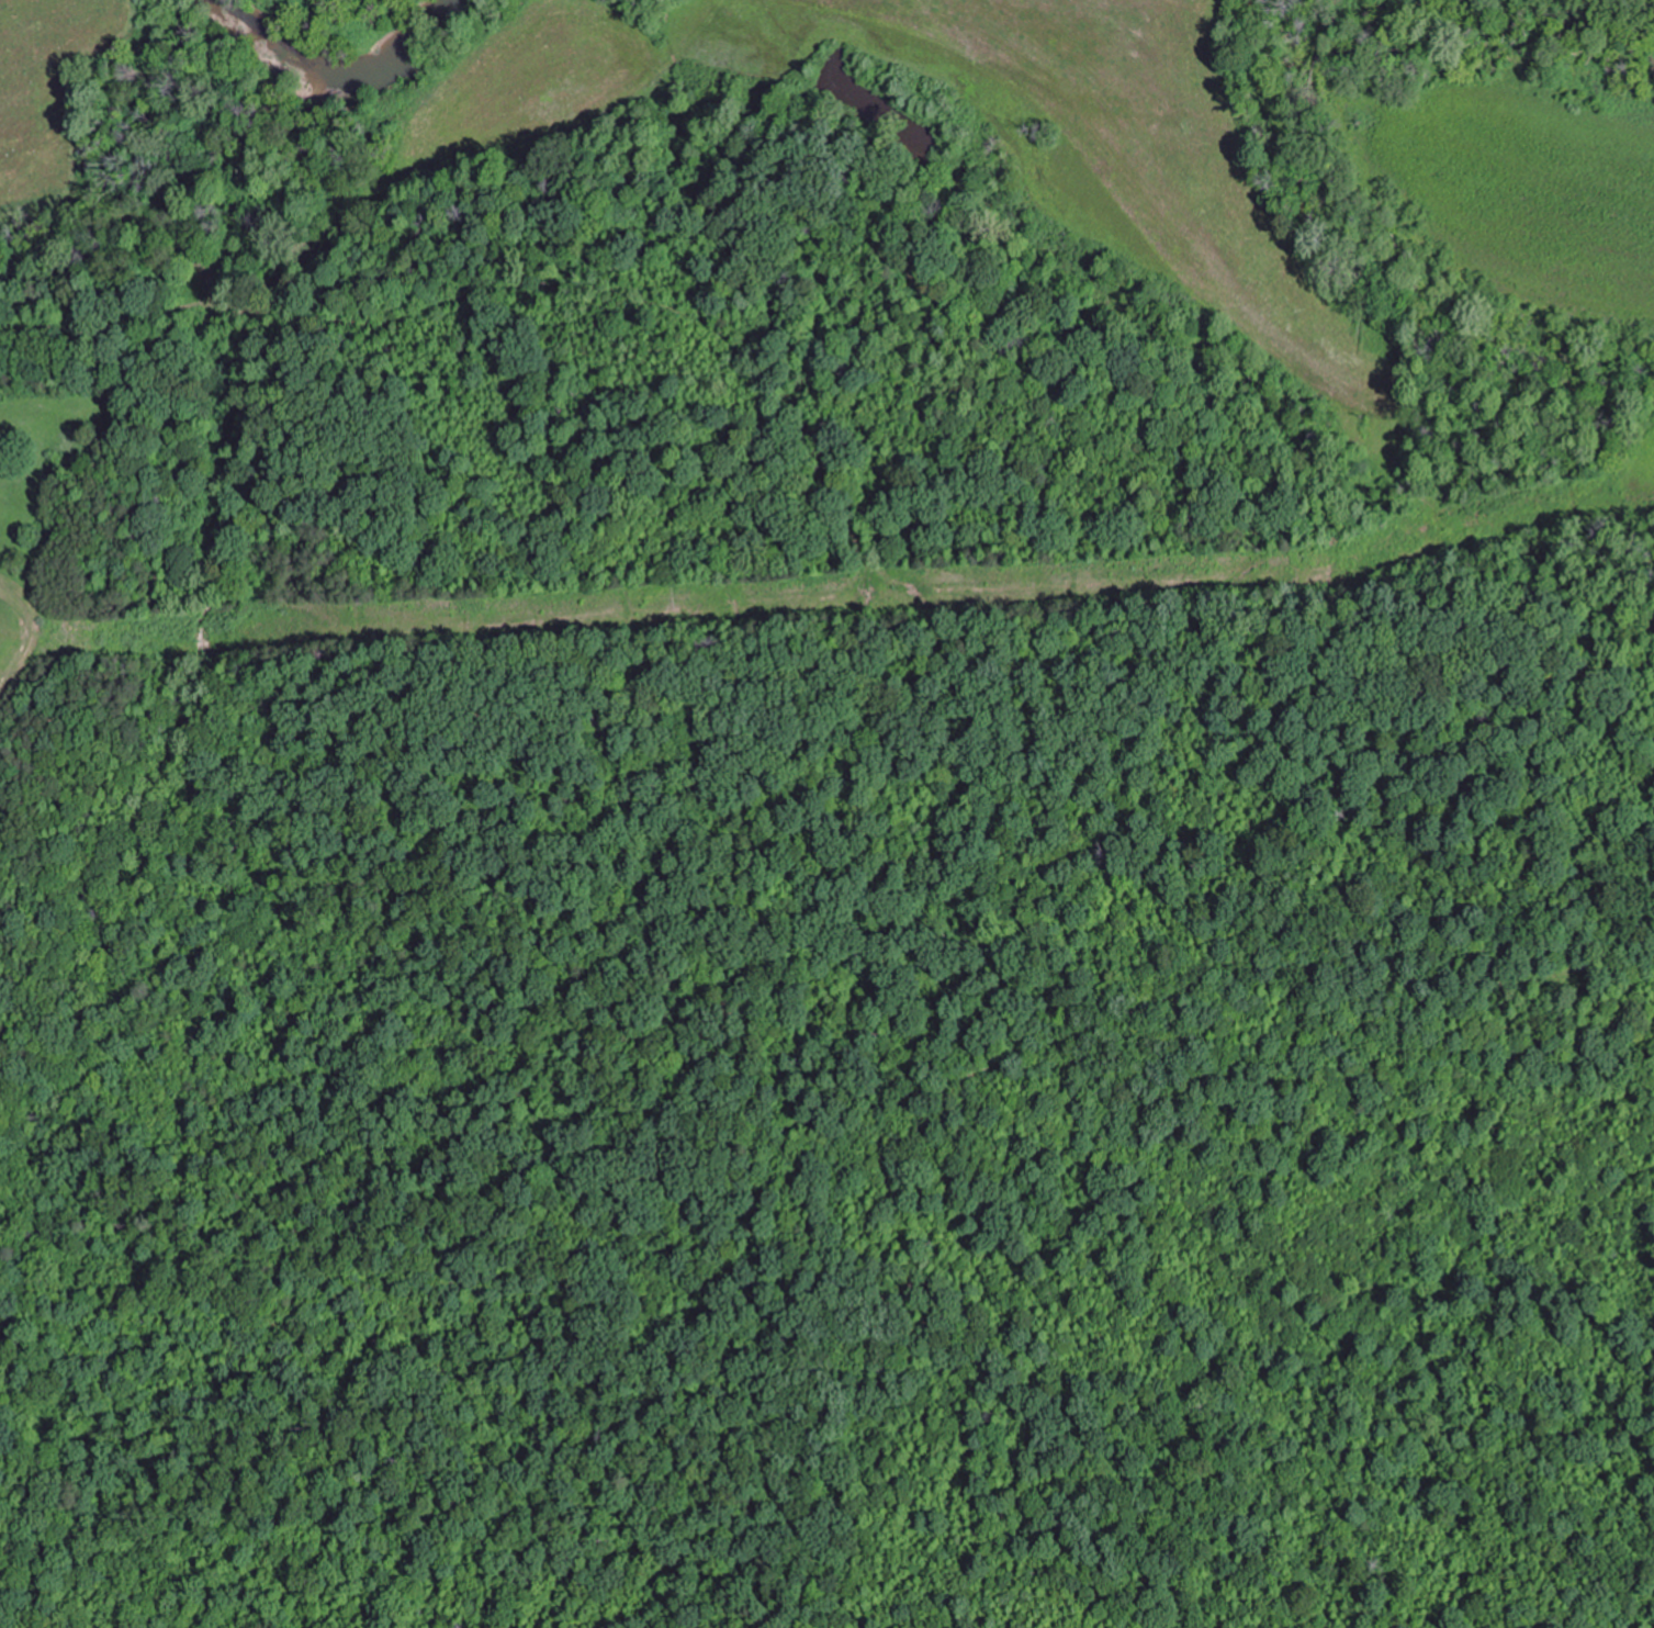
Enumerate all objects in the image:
river: (331, 70)
road: (1078, 1029)

